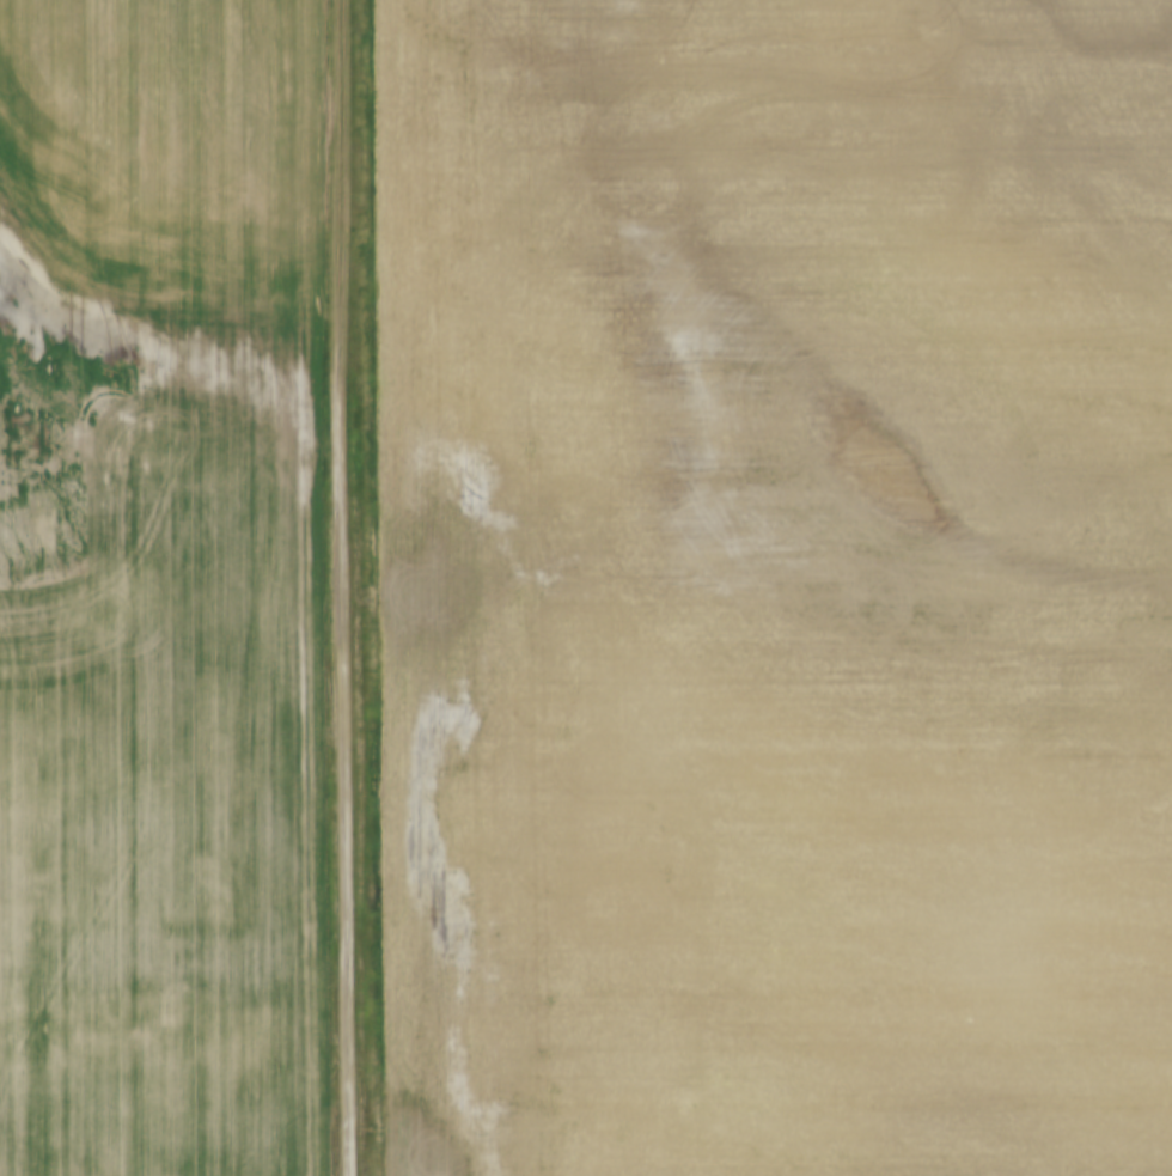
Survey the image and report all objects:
road: (346, 587)

